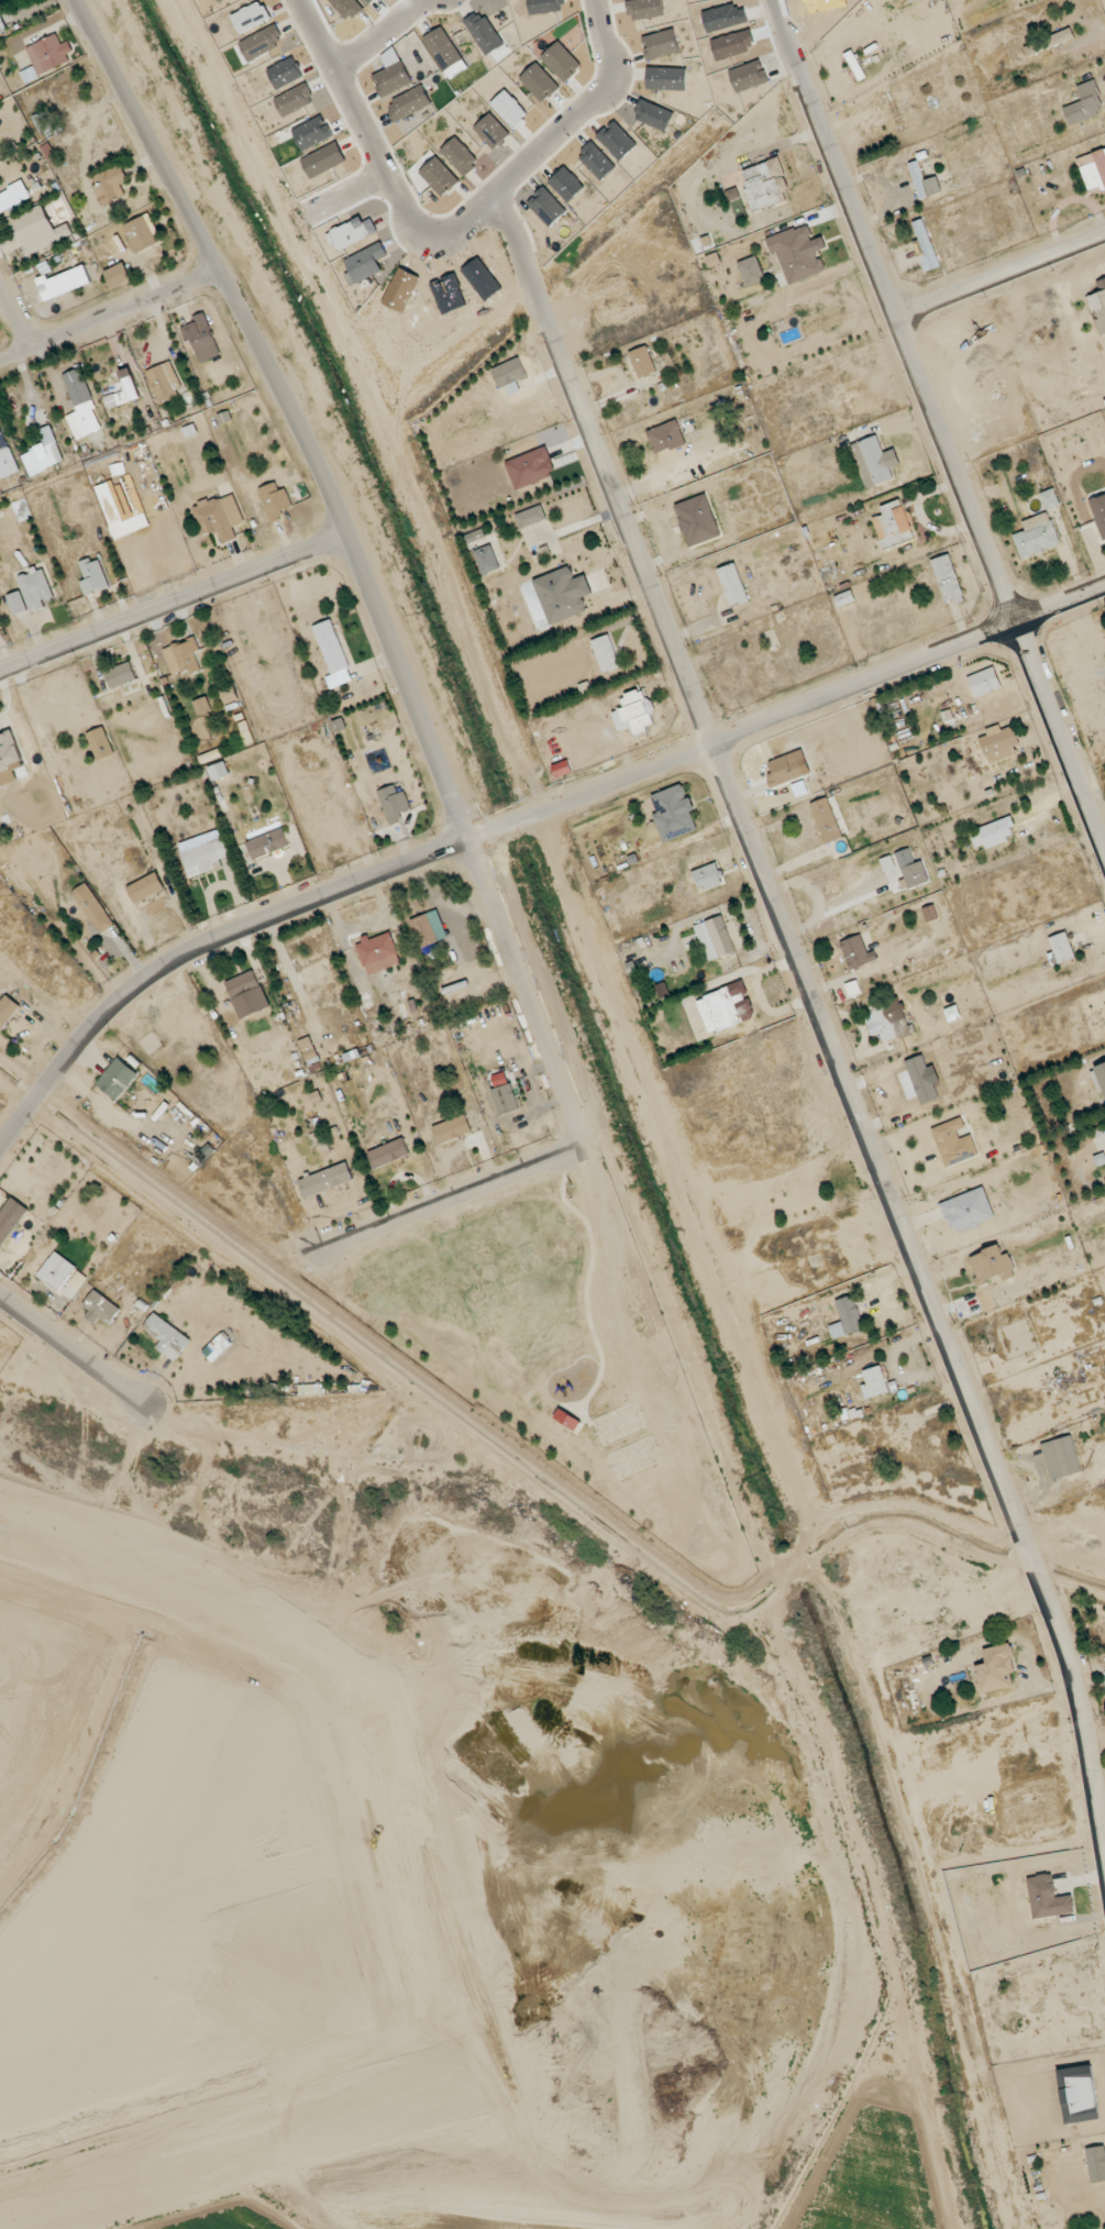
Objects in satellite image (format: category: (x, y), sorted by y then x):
building: (12, 1)
building: (1, 23)
road: (379, 34)
building: (1049, 42)
building: (49, 54)
building: (30, 75)
building: (1084, 104)
road: (576, 119)
building: (49, 126)
building: (48, 154)
building: (1093, 170)
building: (924, 183)
building: (765, 184)
building: (110, 185)
road: (342, 195)
building: (14, 198)
road: (399, 198)
building: (40, 230)
building: (143, 233)
building: (925, 246)
building: (798, 253)
building: (751, 272)
road: (1001, 274)
building: (118, 275)
building: (64, 283)
building: (1098, 307)
road: (14, 319)
road: (110, 319)
building: (201, 338)
building: (643, 362)
building: (509, 373)
building: (165, 382)
building: (124, 390)
building: (81, 406)
building: (224, 417)
road: (938, 422)
building: (666, 437)
building: (43, 453)
building: (5, 457)
building: (874, 461)
building: (530, 467)
building: (1050, 499)
building: (275, 501)
building: (219, 517)
building: (531, 517)
building: (698, 520)
building: (893, 526)
building: (475, 536)
building: (1037, 537)
road: (357, 559)
building: (486, 560)
building: (92, 576)
building: (948, 578)
building: (733, 585)
building: (35, 588)
building: (563, 594)
building: (844, 598)
building: (16, 603)
road: (173, 603)
road: (7, 653)
building: (605, 653)
building: (333, 654)
building: (183, 656)
building: (120, 675)
building: (984, 682)
building: (229, 695)
building: (202, 705)
building: (339, 725)
building: (999, 742)
building: (99, 744)
building: (10, 752)
building: (211, 755)
road: (520, 757)
building: (218, 771)
building: (784, 771)
building: (394, 804)
building: (674, 813)
road: (518, 819)
building: (827, 820)
building: (997, 832)
building: (268, 843)
building: (205, 858)
building: (911, 869)
building: (708, 876)
building: (145, 887)
road: (818, 895)
building: (93, 908)
building: (930, 914)
building: (429, 928)
building: (715, 938)
building: (1061, 948)
building: (378, 952)
building: (857, 952)
building: (853, 989)
building: (247, 994)
building: (726, 1007)
building: (7, 1011)
building: (891, 1019)
building: (309, 1050)
road: (839, 1068)
building: (1098, 1078)
building: (117, 1079)
building: (506, 1099)
building: (452, 1128)
building: (320, 1141)
building: (954, 1143)
building: (389, 1152)
building: (325, 1180)
road: (450, 1199)
building: (10, 1218)
building: (991, 1265)
building: (57, 1271)
building: (101, 1309)
building: (850, 1314)
building: (167, 1336)
park: (561, 1345)
road: (71, 1349)
building: (875, 1381)
building: (567, 1420)
building: (1061, 1457)
road: (916, 1509)
building: (997, 1668)
building: (1047, 1898)
building: (1079, 2095)
building: (1096, 2164)

